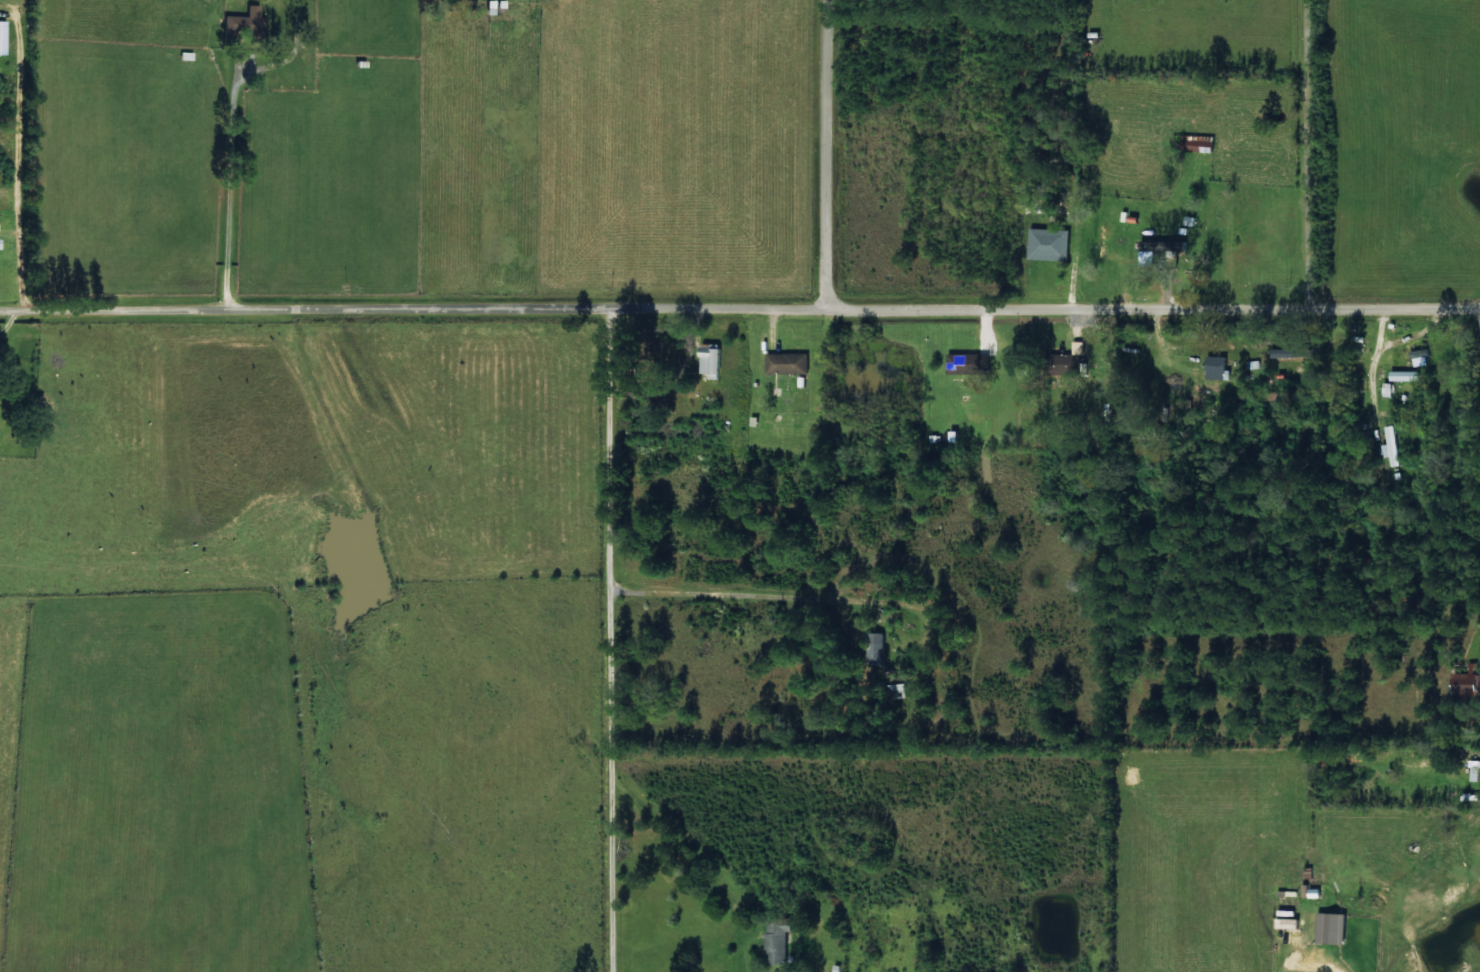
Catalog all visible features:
building: (245, 25)
building: (3, 37)
road: (1306, 157)
road: (843, 159)
road: (218, 190)
building: (0, 242)
building: (1050, 244)
building: (1165, 245)
road: (740, 320)
building: (1291, 352)
building: (1419, 353)
building: (713, 359)
building: (790, 362)
building: (970, 363)
building: (1069, 364)
building: (1219, 367)
building: (1406, 375)
building: (1391, 445)
road: (620, 647)
building: (877, 647)
building: (1469, 681)
building: (1475, 770)
building: (1334, 927)
building: (780, 938)

